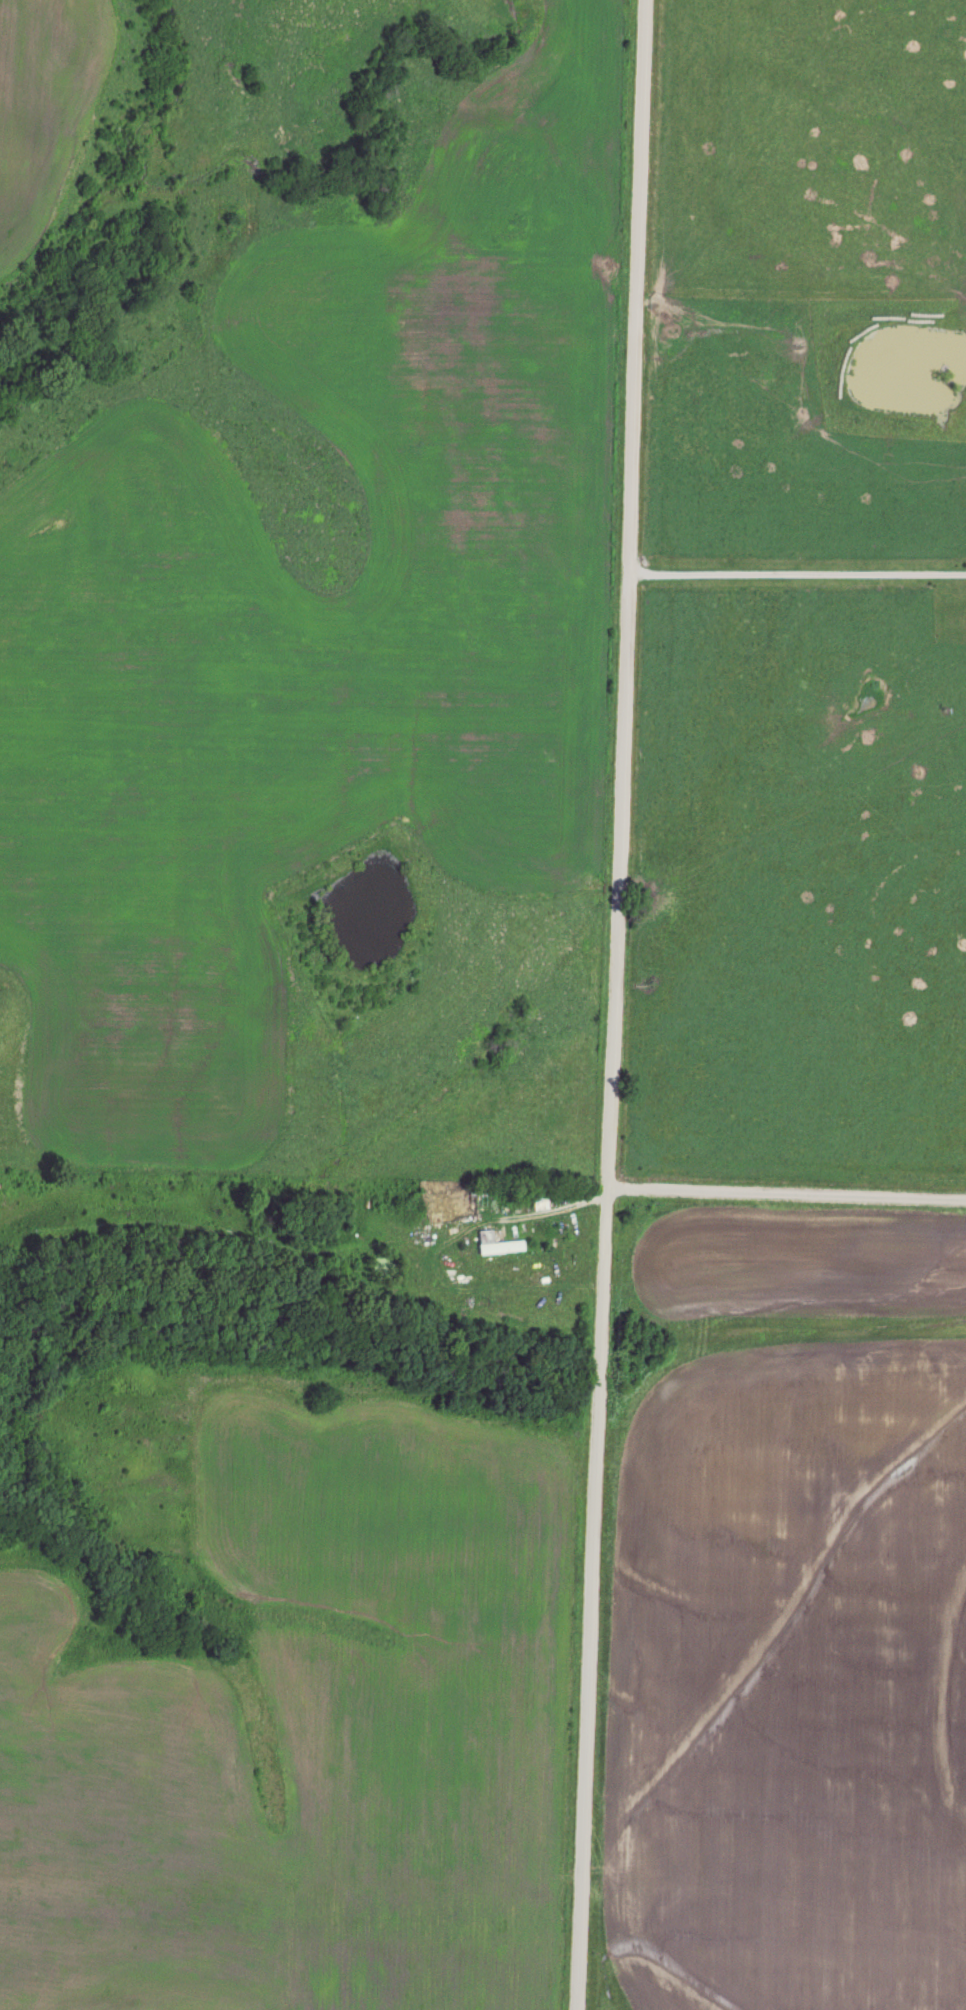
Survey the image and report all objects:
road: (796, 574)
road: (615, 1005)
road: (788, 1199)
road: (556, 1206)

